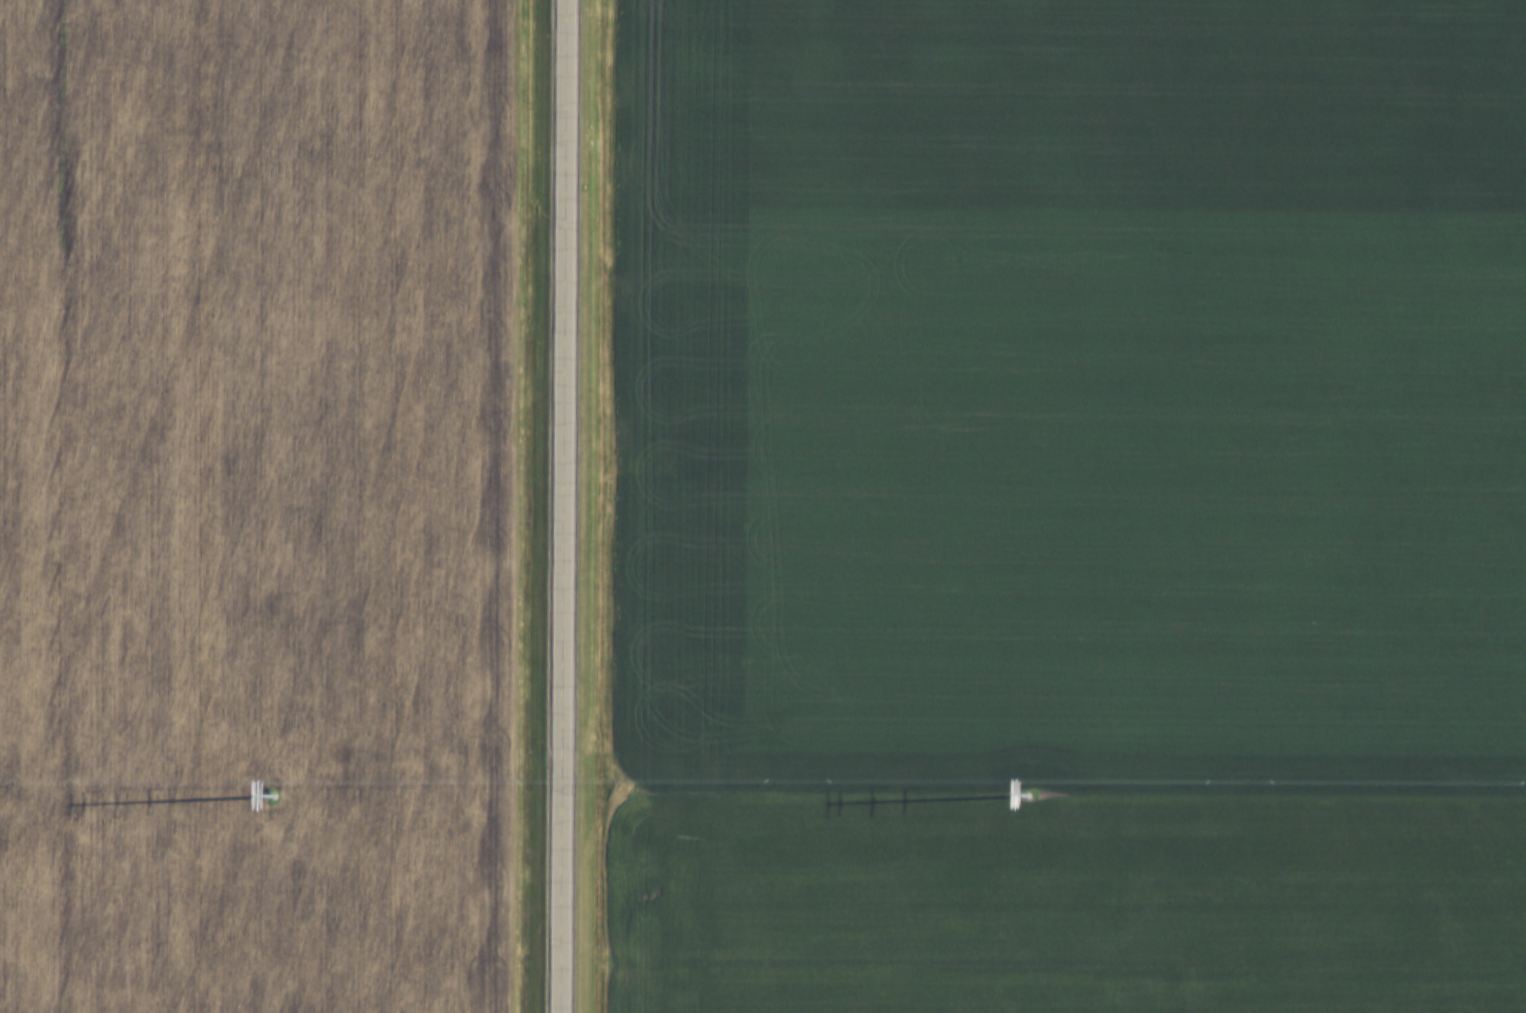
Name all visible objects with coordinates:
road: (566, 506)
power tower: (274, 796)
power tower: (1029, 797)

